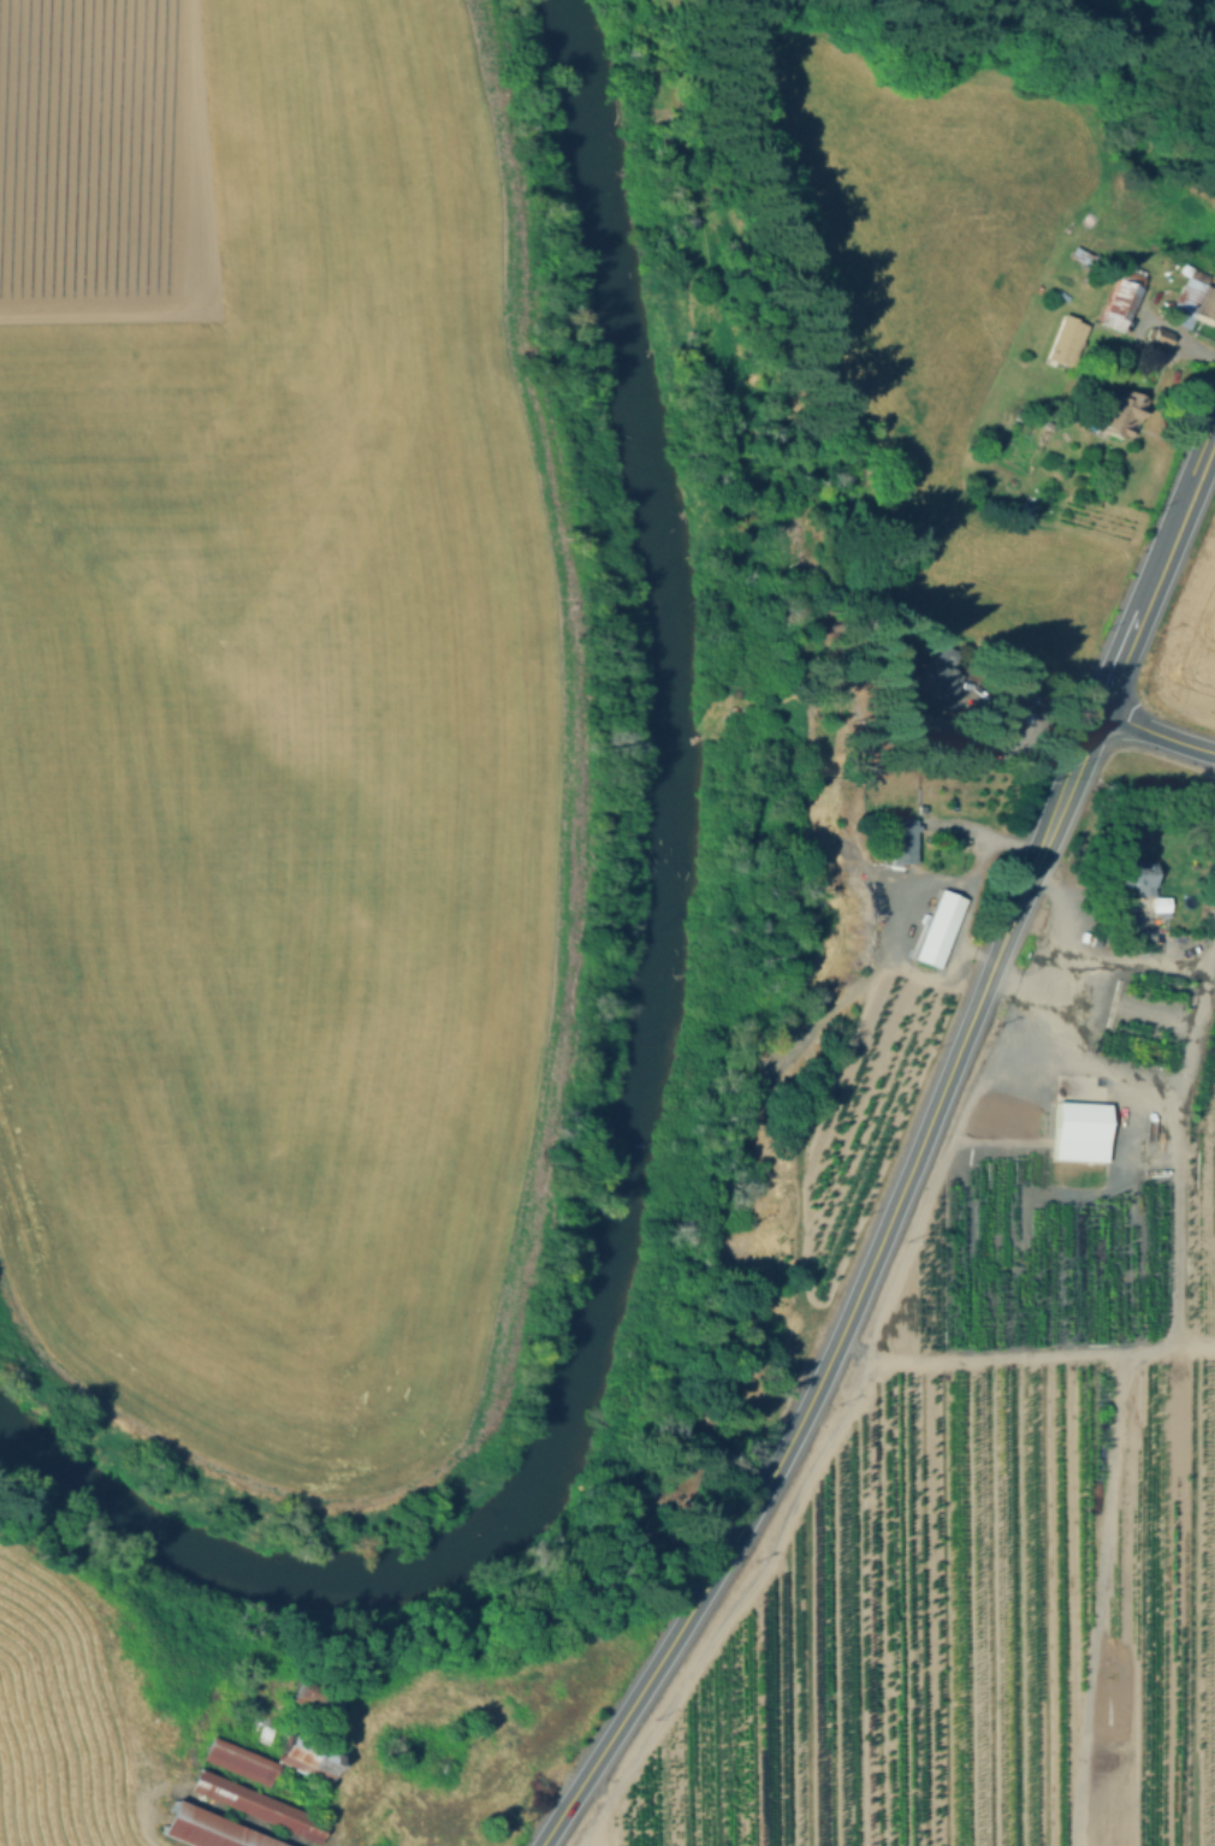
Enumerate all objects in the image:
building: (1102, 266)
building: (1122, 299)
building: (1193, 304)
building: (1160, 336)
building: (1067, 340)
building: (1121, 414)
crop: (1187, 643)
road: (1124, 648)
building: (937, 672)
crop: (272, 711)
building: (932, 728)
road: (1156, 731)
road: (1014, 735)
building: (903, 845)
building: (1132, 882)
road: (972, 883)
road: (1063, 909)
building: (1160, 910)
building: (940, 932)
road: (1108, 962)
river: (666, 1061)
road: (1173, 1126)
building: (1079, 1127)
road: (1023, 1353)
road: (822, 1376)
road: (1095, 1597)
building: (315, 1696)
crop: (54, 1716)
building: (263, 1734)
building: (307, 1751)
building: (241, 1761)
road: (201, 1800)
building: (259, 1805)
building: (213, 1829)

